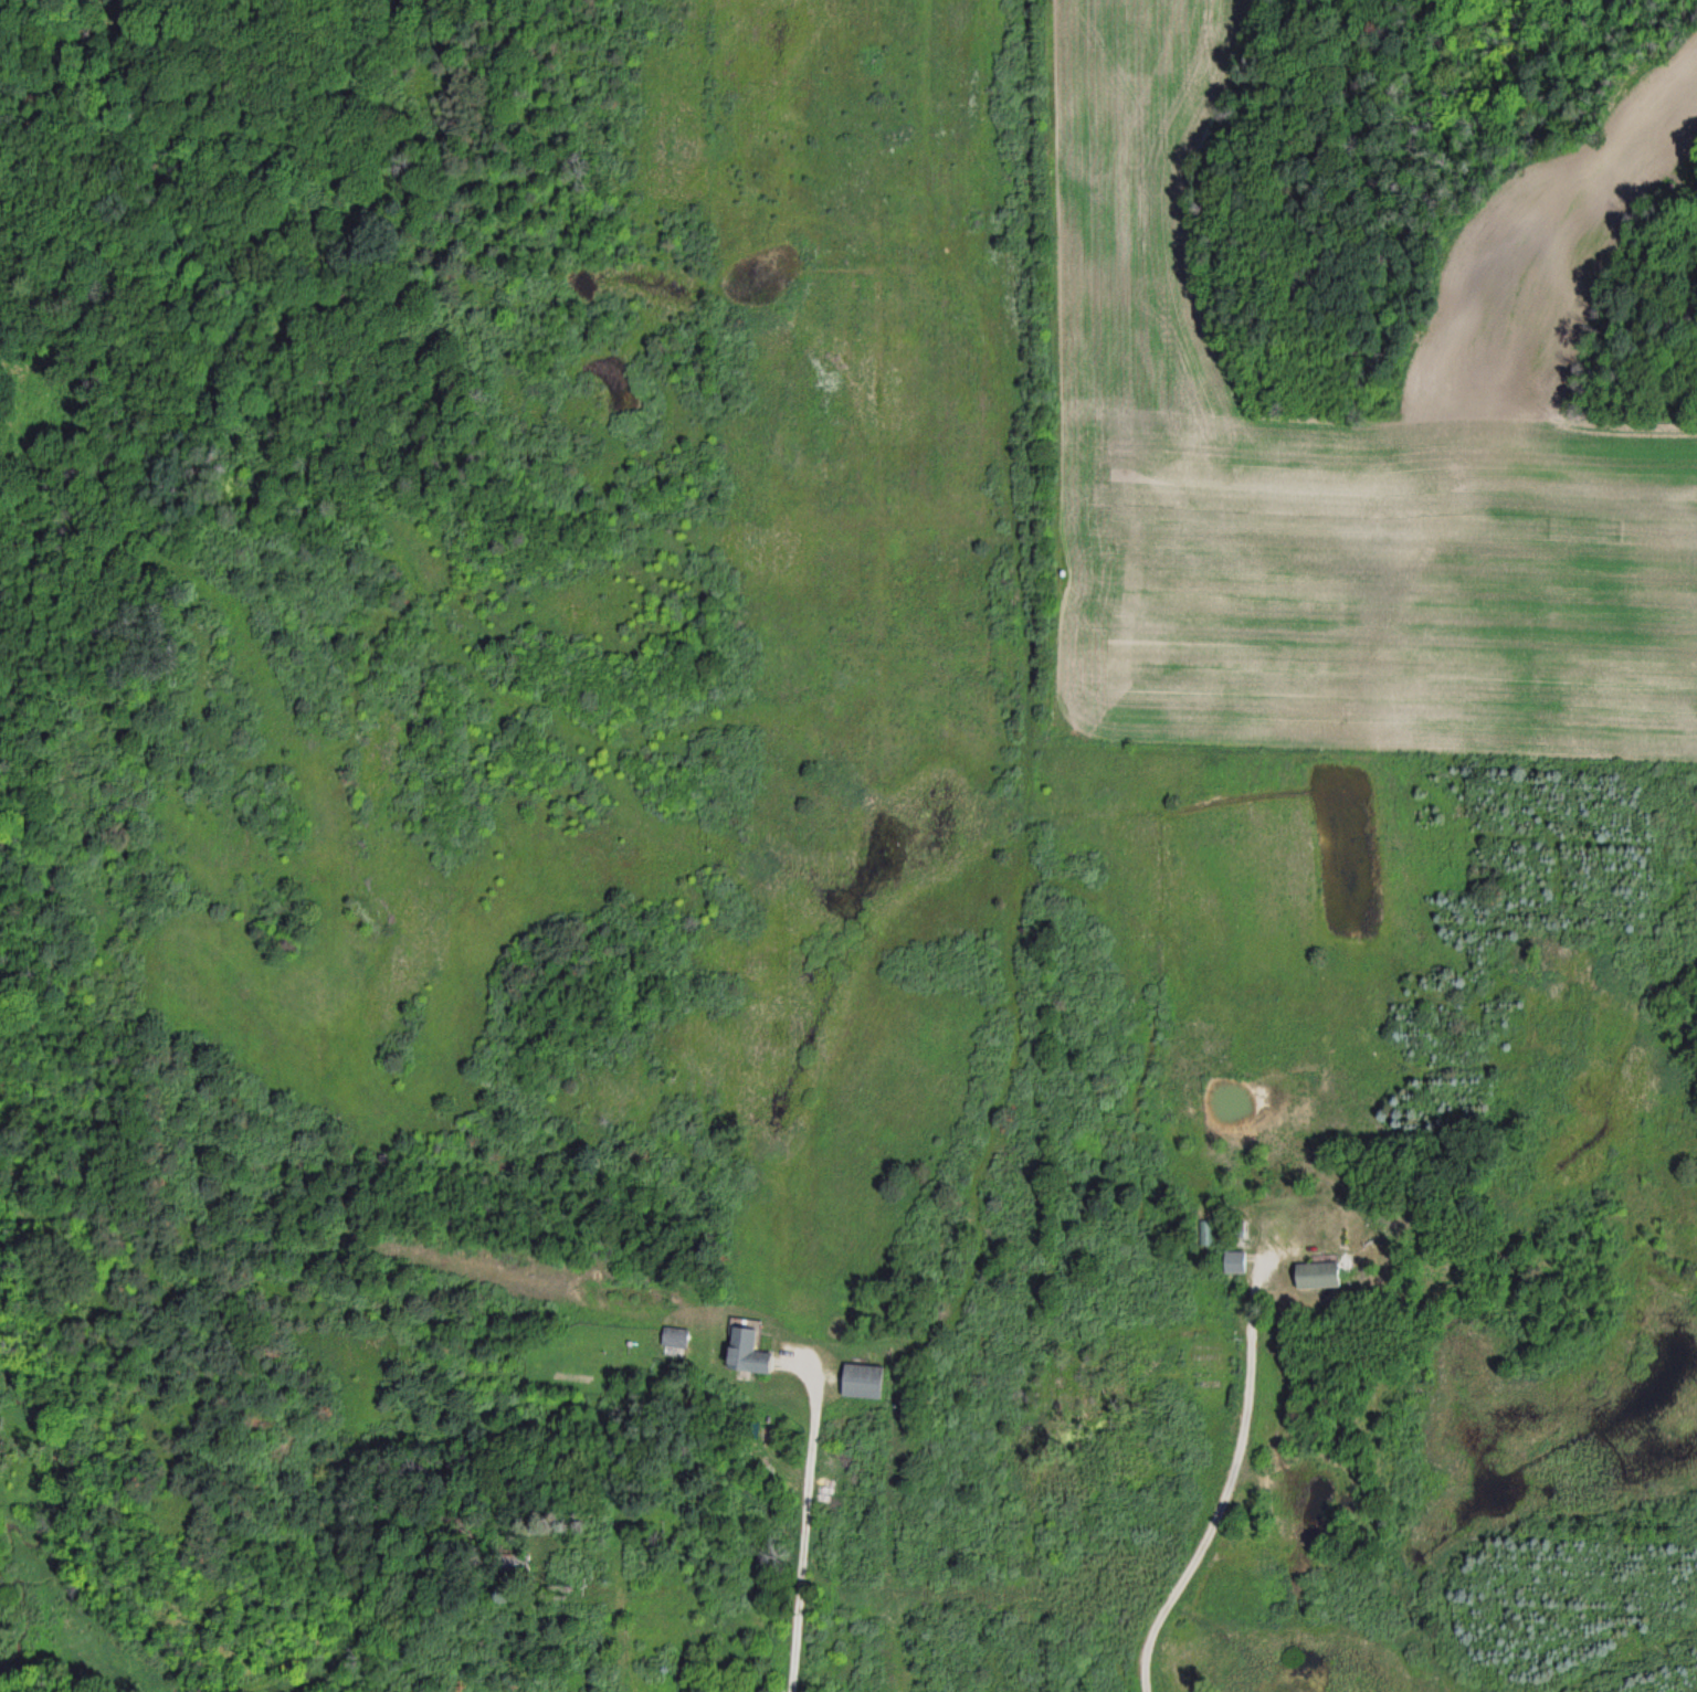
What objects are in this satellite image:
building: (1205, 1234)
building: (1234, 1262)
building: (1317, 1276)
building: (675, 1339)
building: (746, 1353)
building: (863, 1383)

